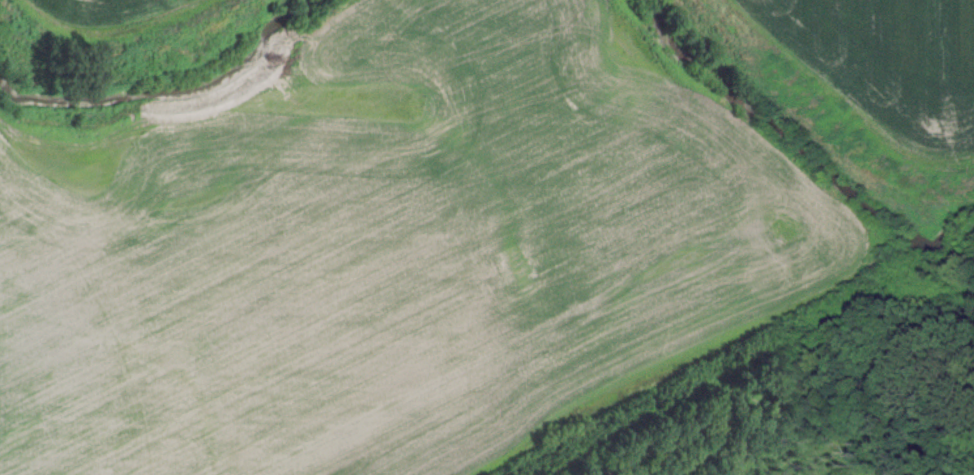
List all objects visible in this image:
crop: (109, 18)
crop: (879, 69)
crop: (390, 247)

